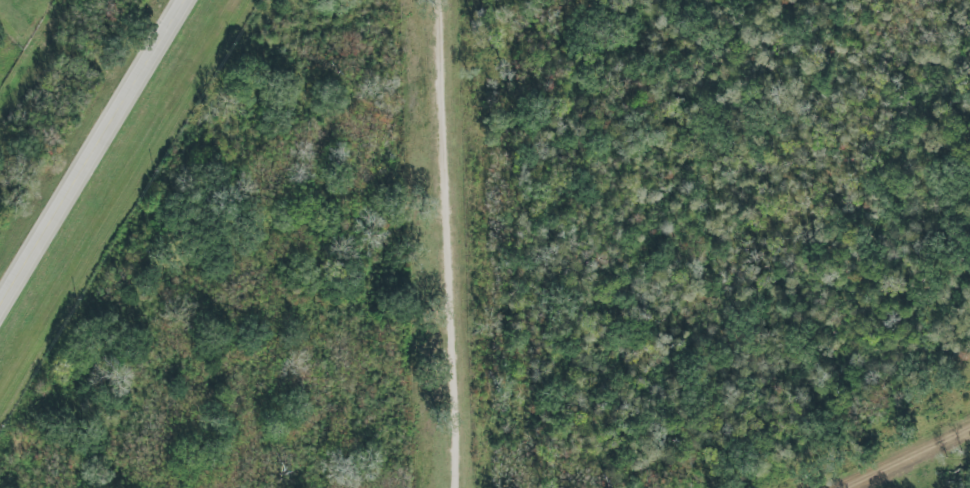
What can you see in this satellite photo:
road: (94, 156)

